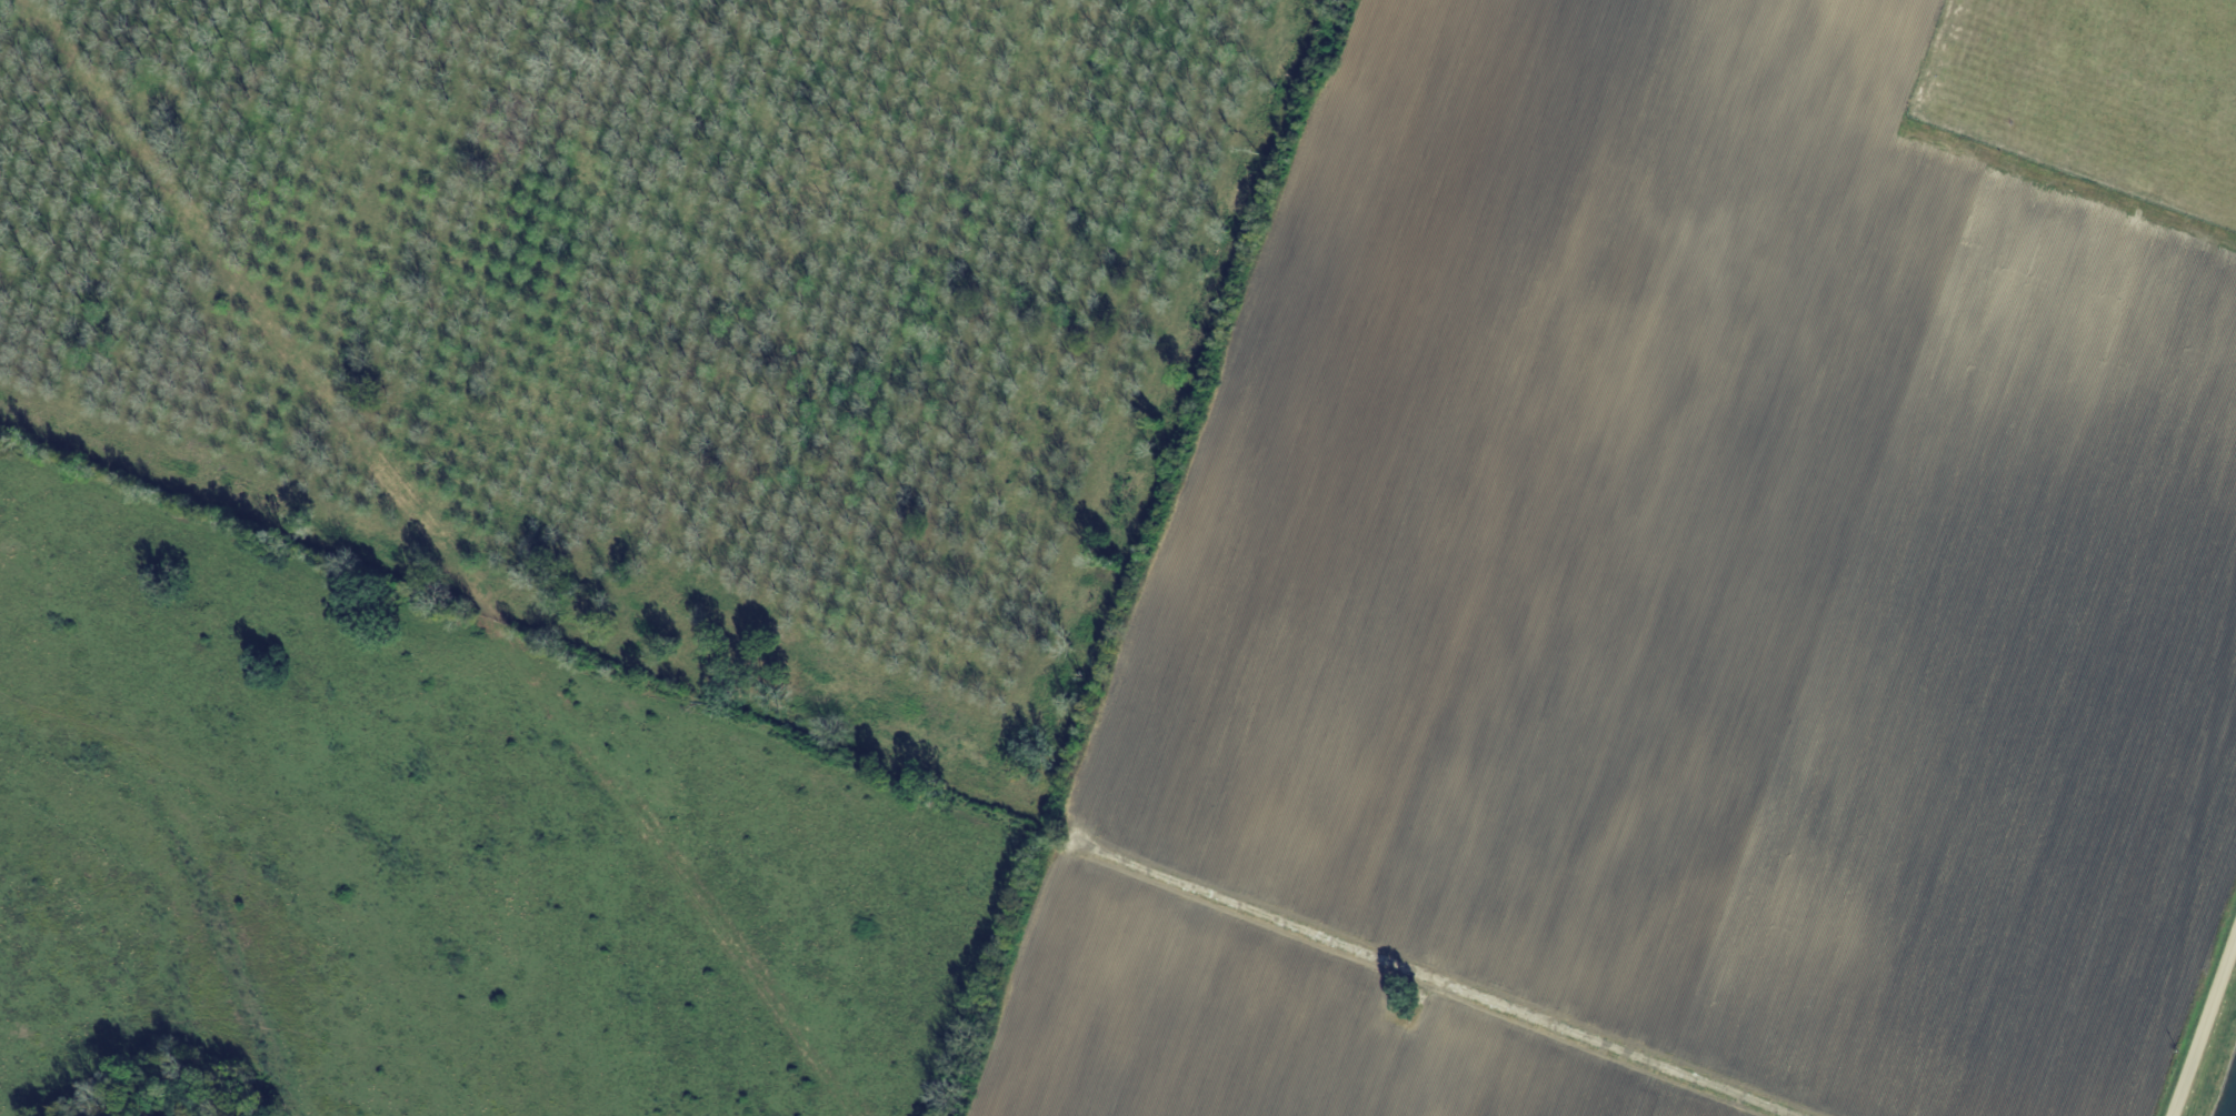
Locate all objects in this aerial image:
road: (2210, 1043)

